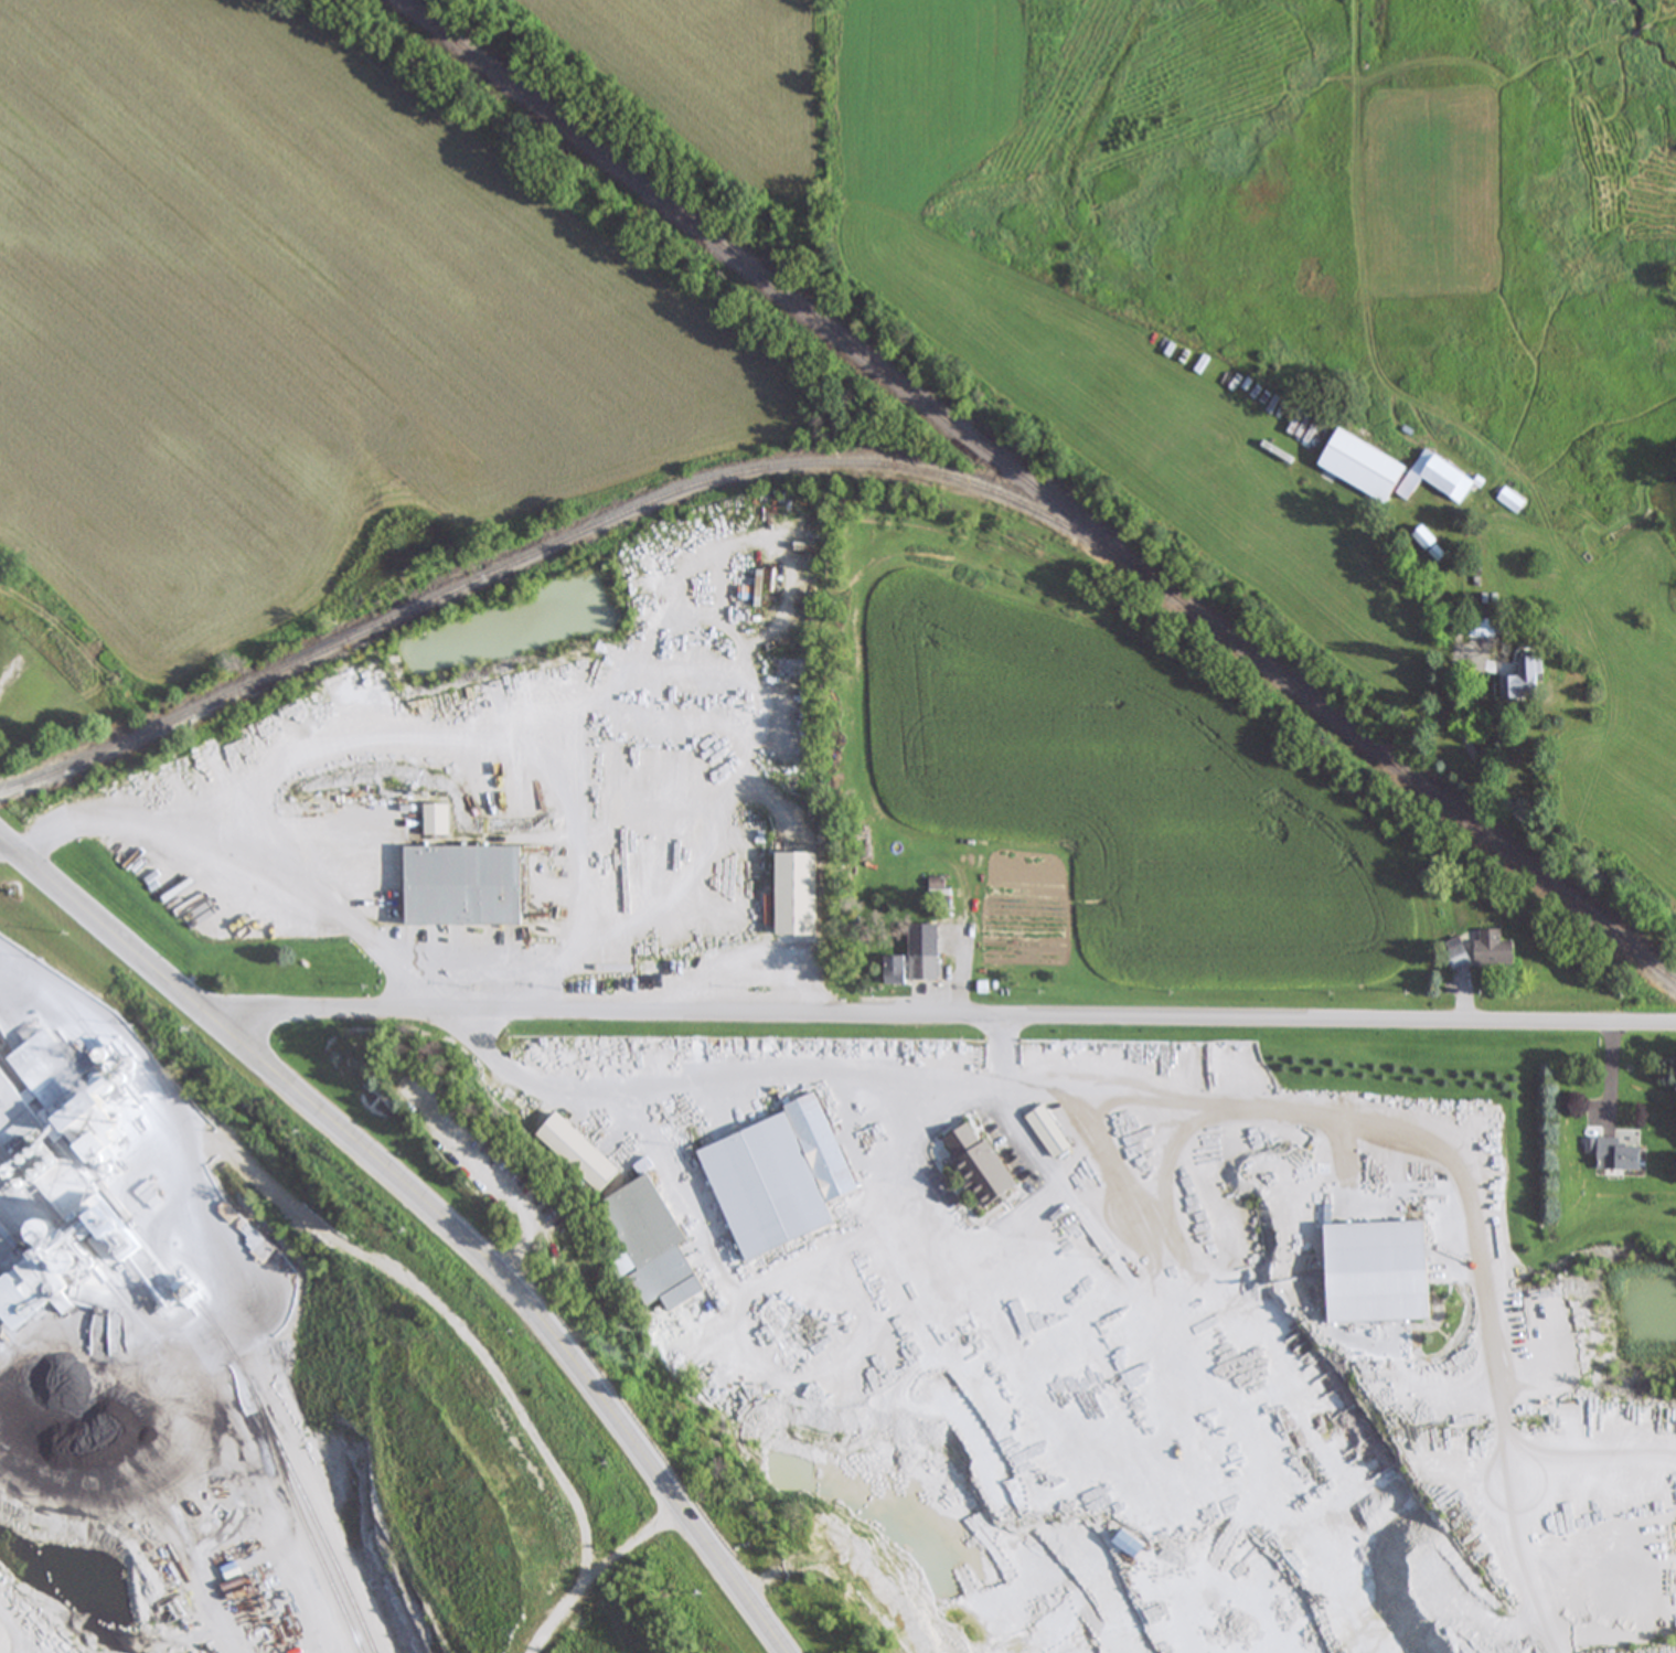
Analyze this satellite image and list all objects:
building: (1400, 472)
railway: (1055, 478)
building: (1437, 545)
building: (1491, 612)
building: (1536, 680)
building: (26, 704)
building: (449, 823)
road: (241, 842)
building: (476, 891)
building: (808, 898)
building: (1506, 952)
building: (65, 956)
building: (1466, 957)
building: (910, 971)
road: (943, 1017)
road: (739, 1075)
building: (64, 1077)
building: (17, 1116)
building: (1046, 1135)
building: (818, 1144)
building: (575, 1149)
parking lot: (482, 1154)
building: (1621, 1156)
building: (976, 1165)
building: (767, 1184)
road: (426, 1216)
building: (651, 1224)
building: (139, 1227)
building: (70, 1236)
silo: (70, 1236)
building: (1375, 1271)
building: (672, 1280)
building: (694, 1297)
building: (26, 1307)
building: (2, 1321)
quarry: (1130, 1332)
quarry: (268, 1376)
quarry: (253, 1390)

